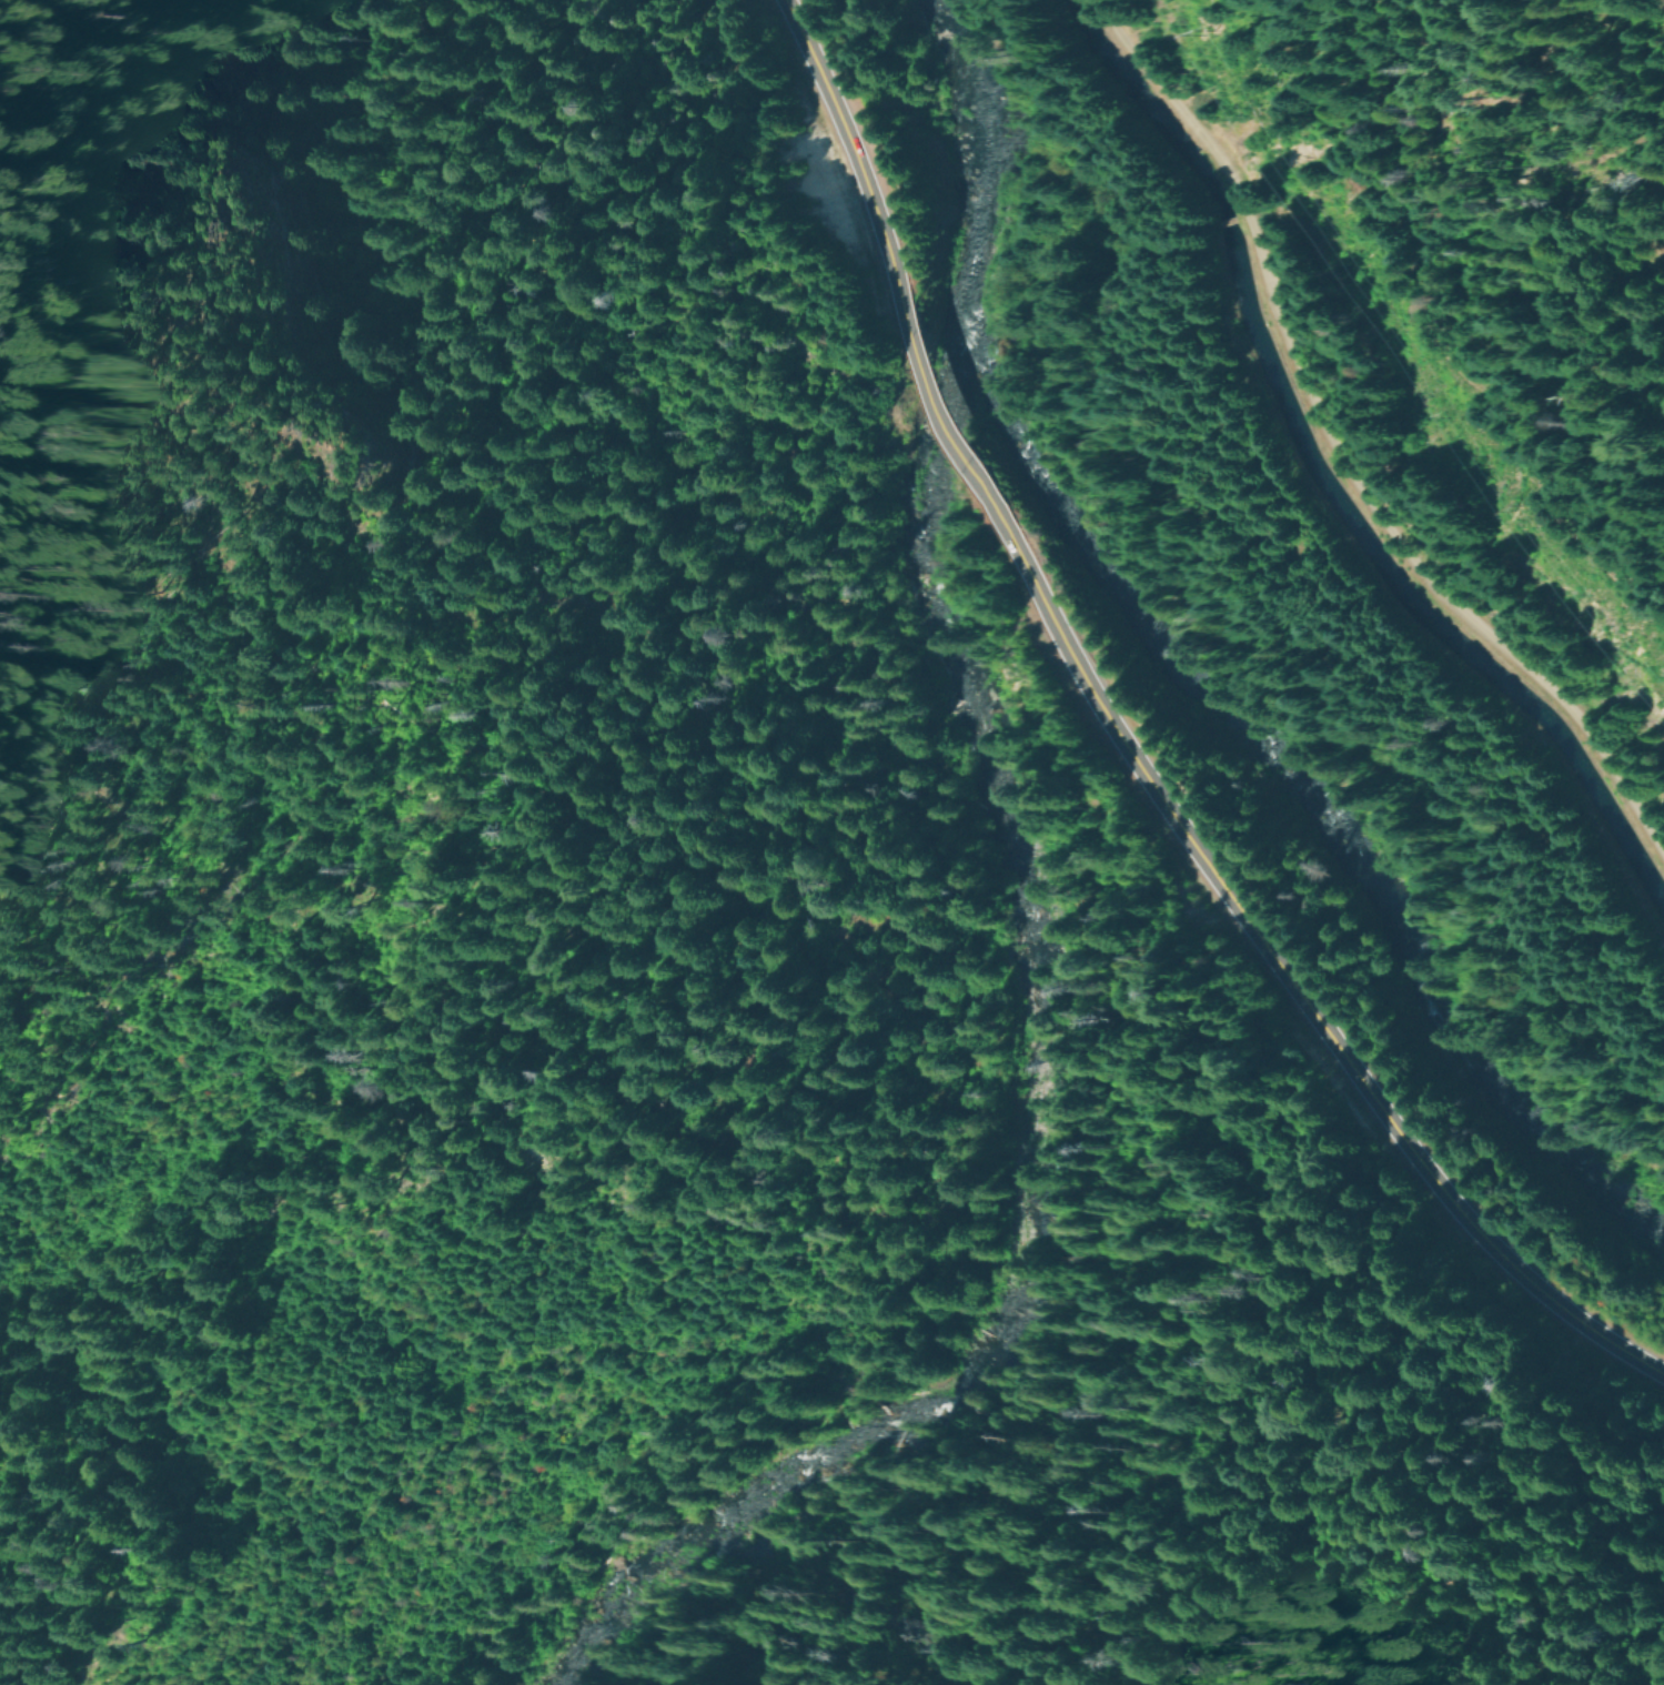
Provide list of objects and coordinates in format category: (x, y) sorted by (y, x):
road: (851, 170)
road: (947, 404)
road: (1339, 458)
river: (1197, 670)
road: (1270, 962)

